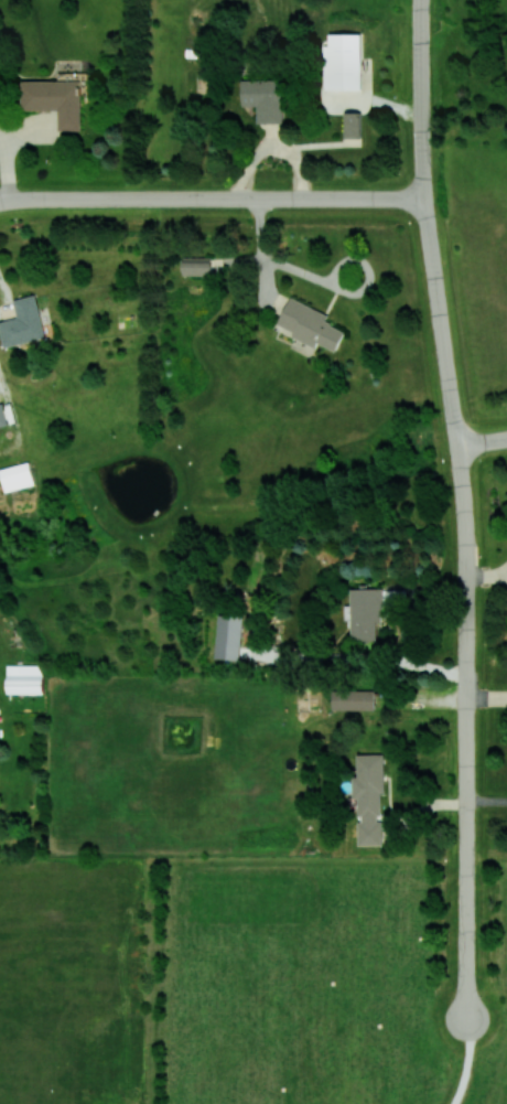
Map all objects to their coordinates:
building: (343, 62)
road: (421, 69)
building: (263, 98)
building: (54, 99)
building: (354, 125)
road: (422, 169)
road: (211, 199)
road: (263, 254)
building: (197, 266)
building: (22, 323)
building: (310, 324)
building: (2, 416)
road: (482, 441)
building: (17, 476)
road: (466, 607)
building: (365, 613)
building: (228, 636)
building: (25, 678)
building: (353, 699)
building: (369, 798)
road: (466, 1062)

